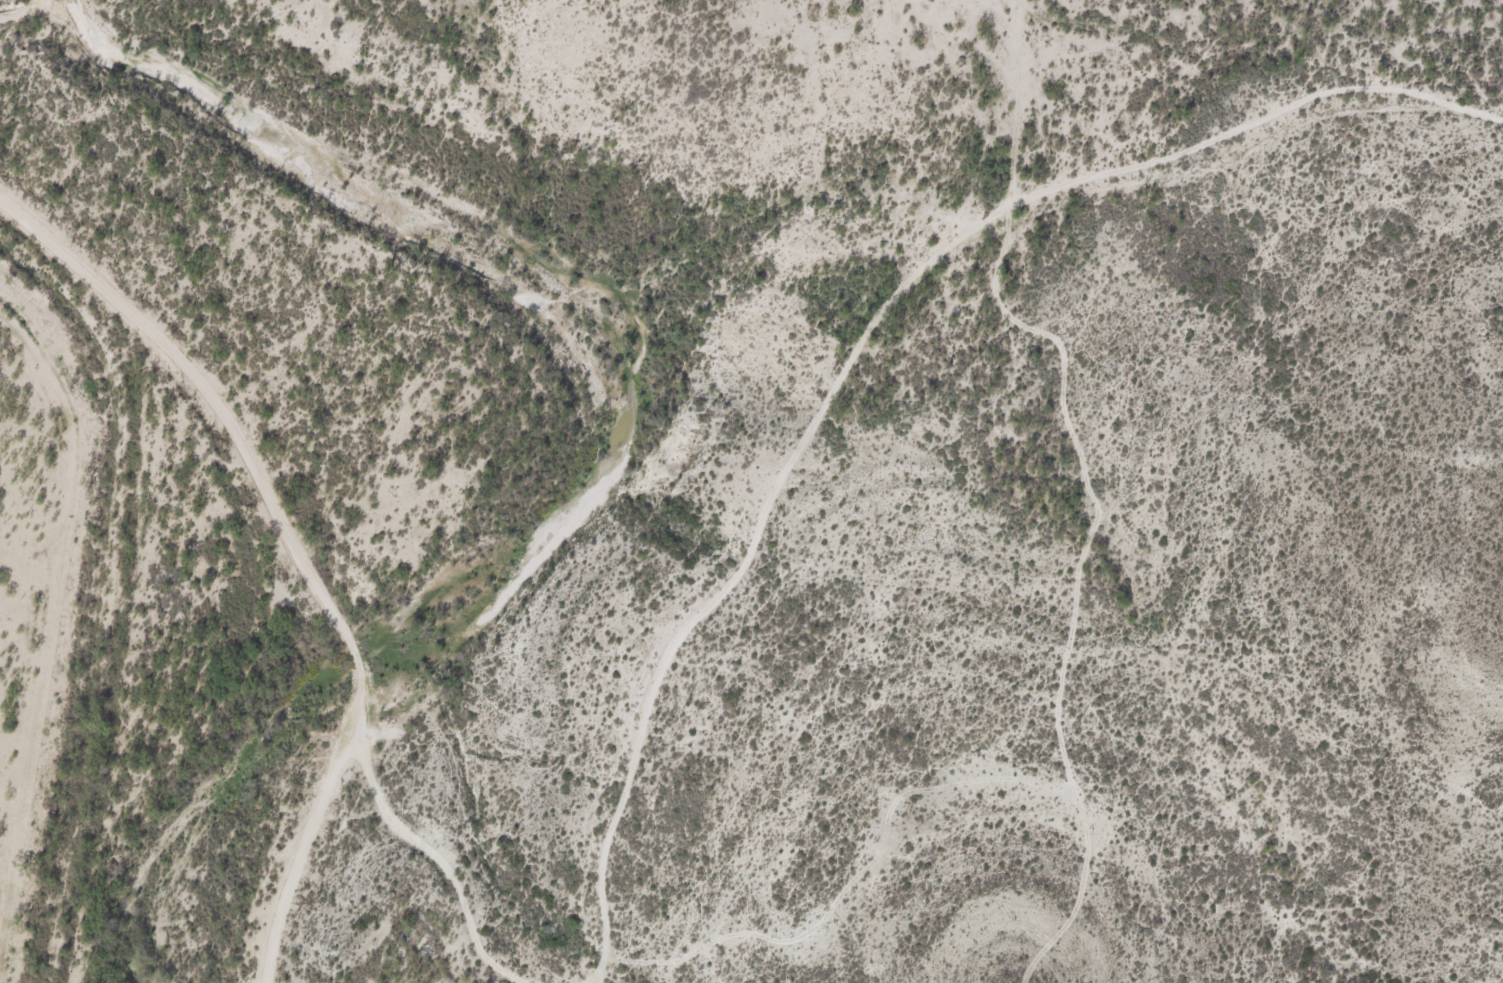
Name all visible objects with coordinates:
road: (1247, 153)
road: (793, 473)
road: (302, 544)
road: (446, 861)

